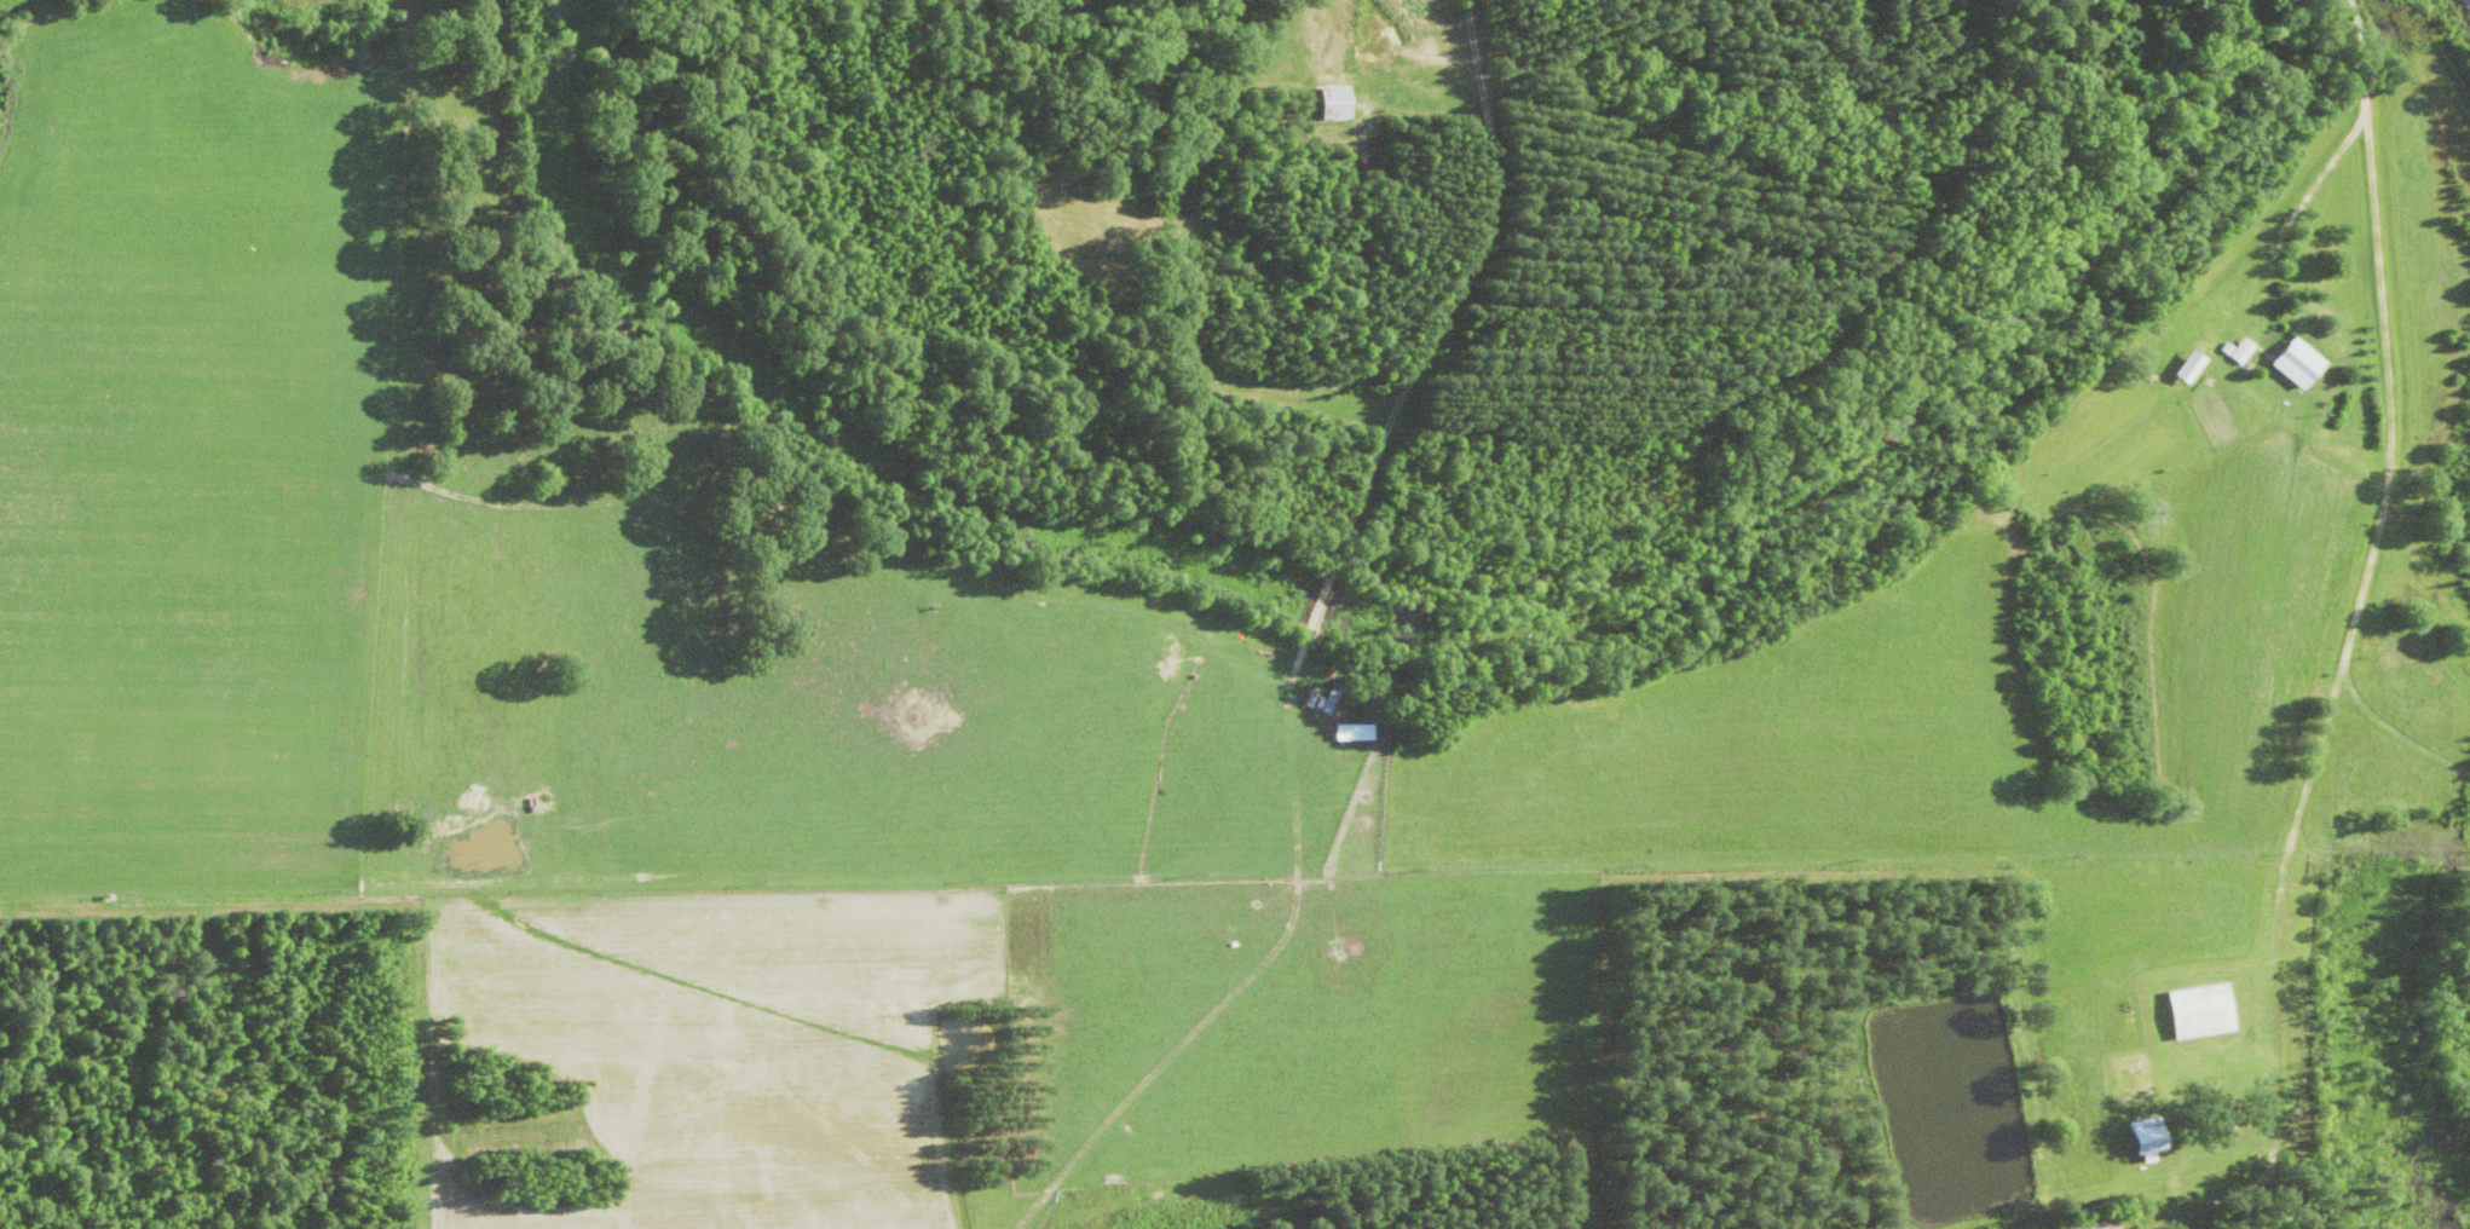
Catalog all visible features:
building: (2295, 364)
building: (2188, 368)
road: (2349, 656)
building: (2198, 1011)
building: (2091, 1222)

